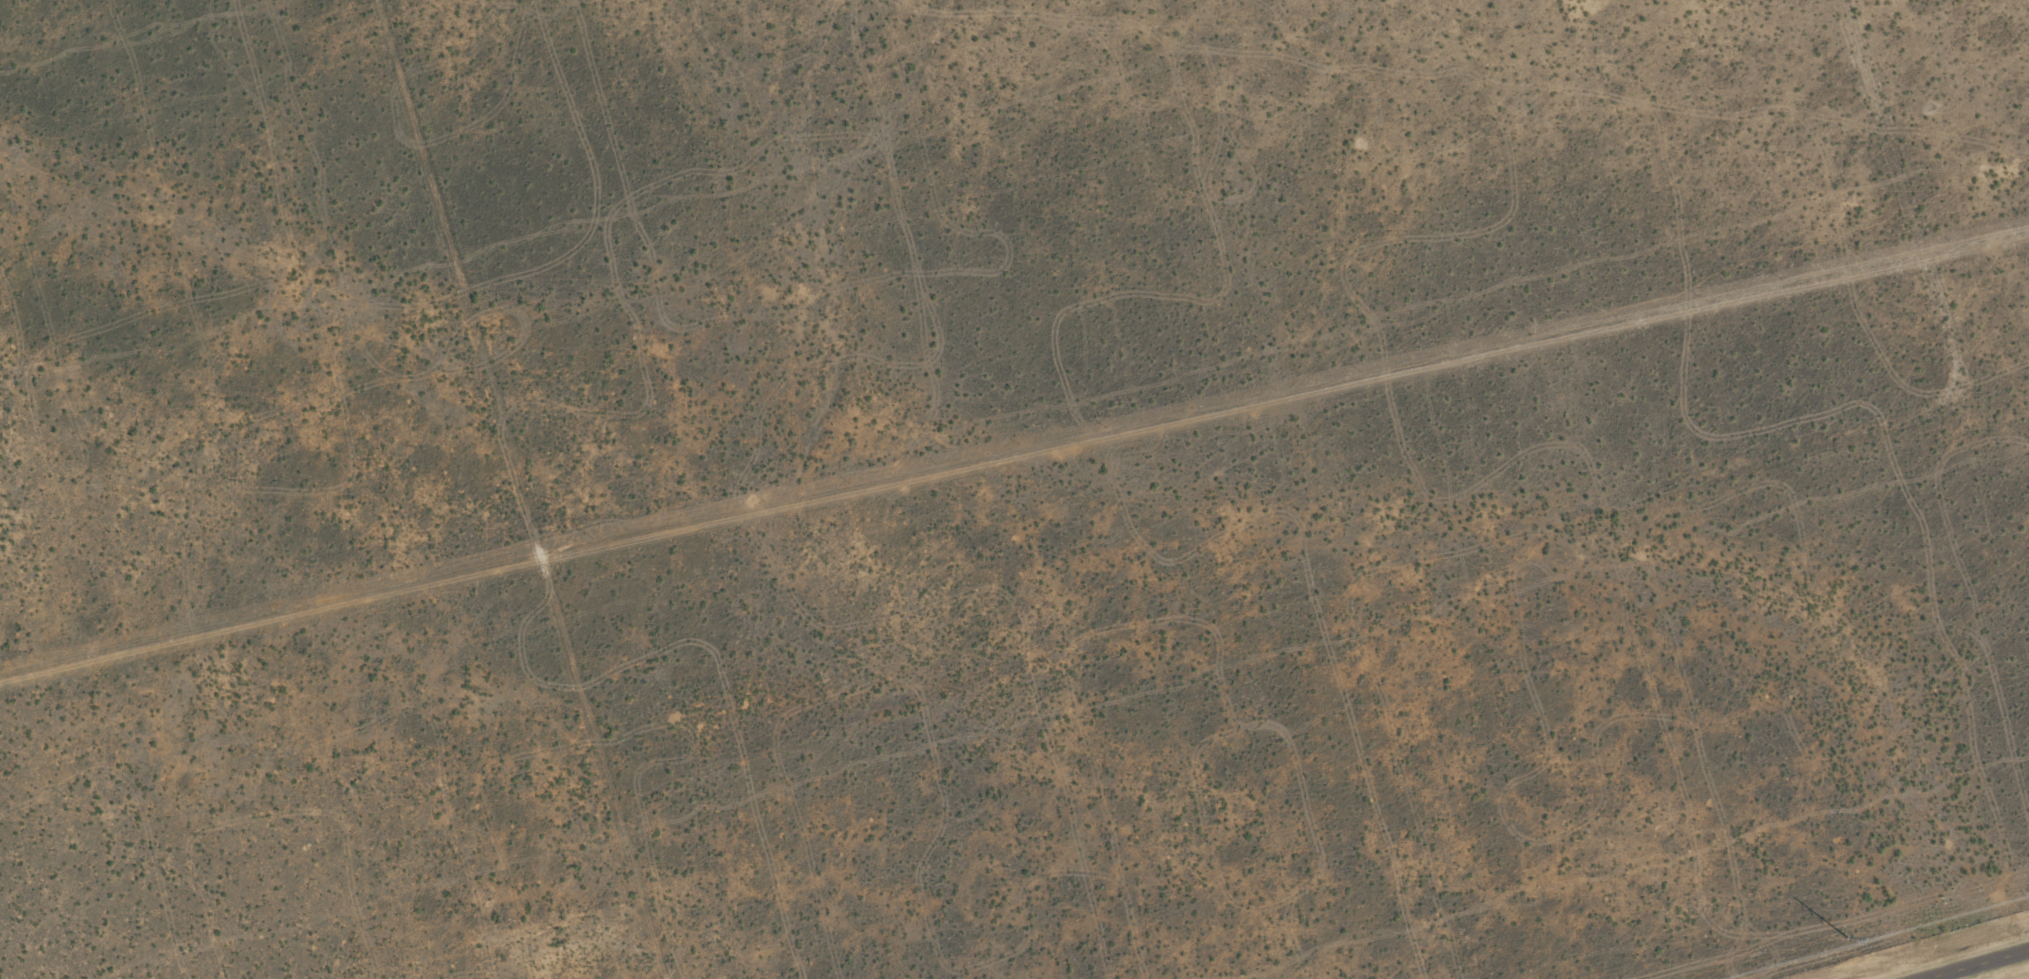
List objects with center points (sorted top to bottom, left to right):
power tower: (1847, 938)
road: (1989, 968)

